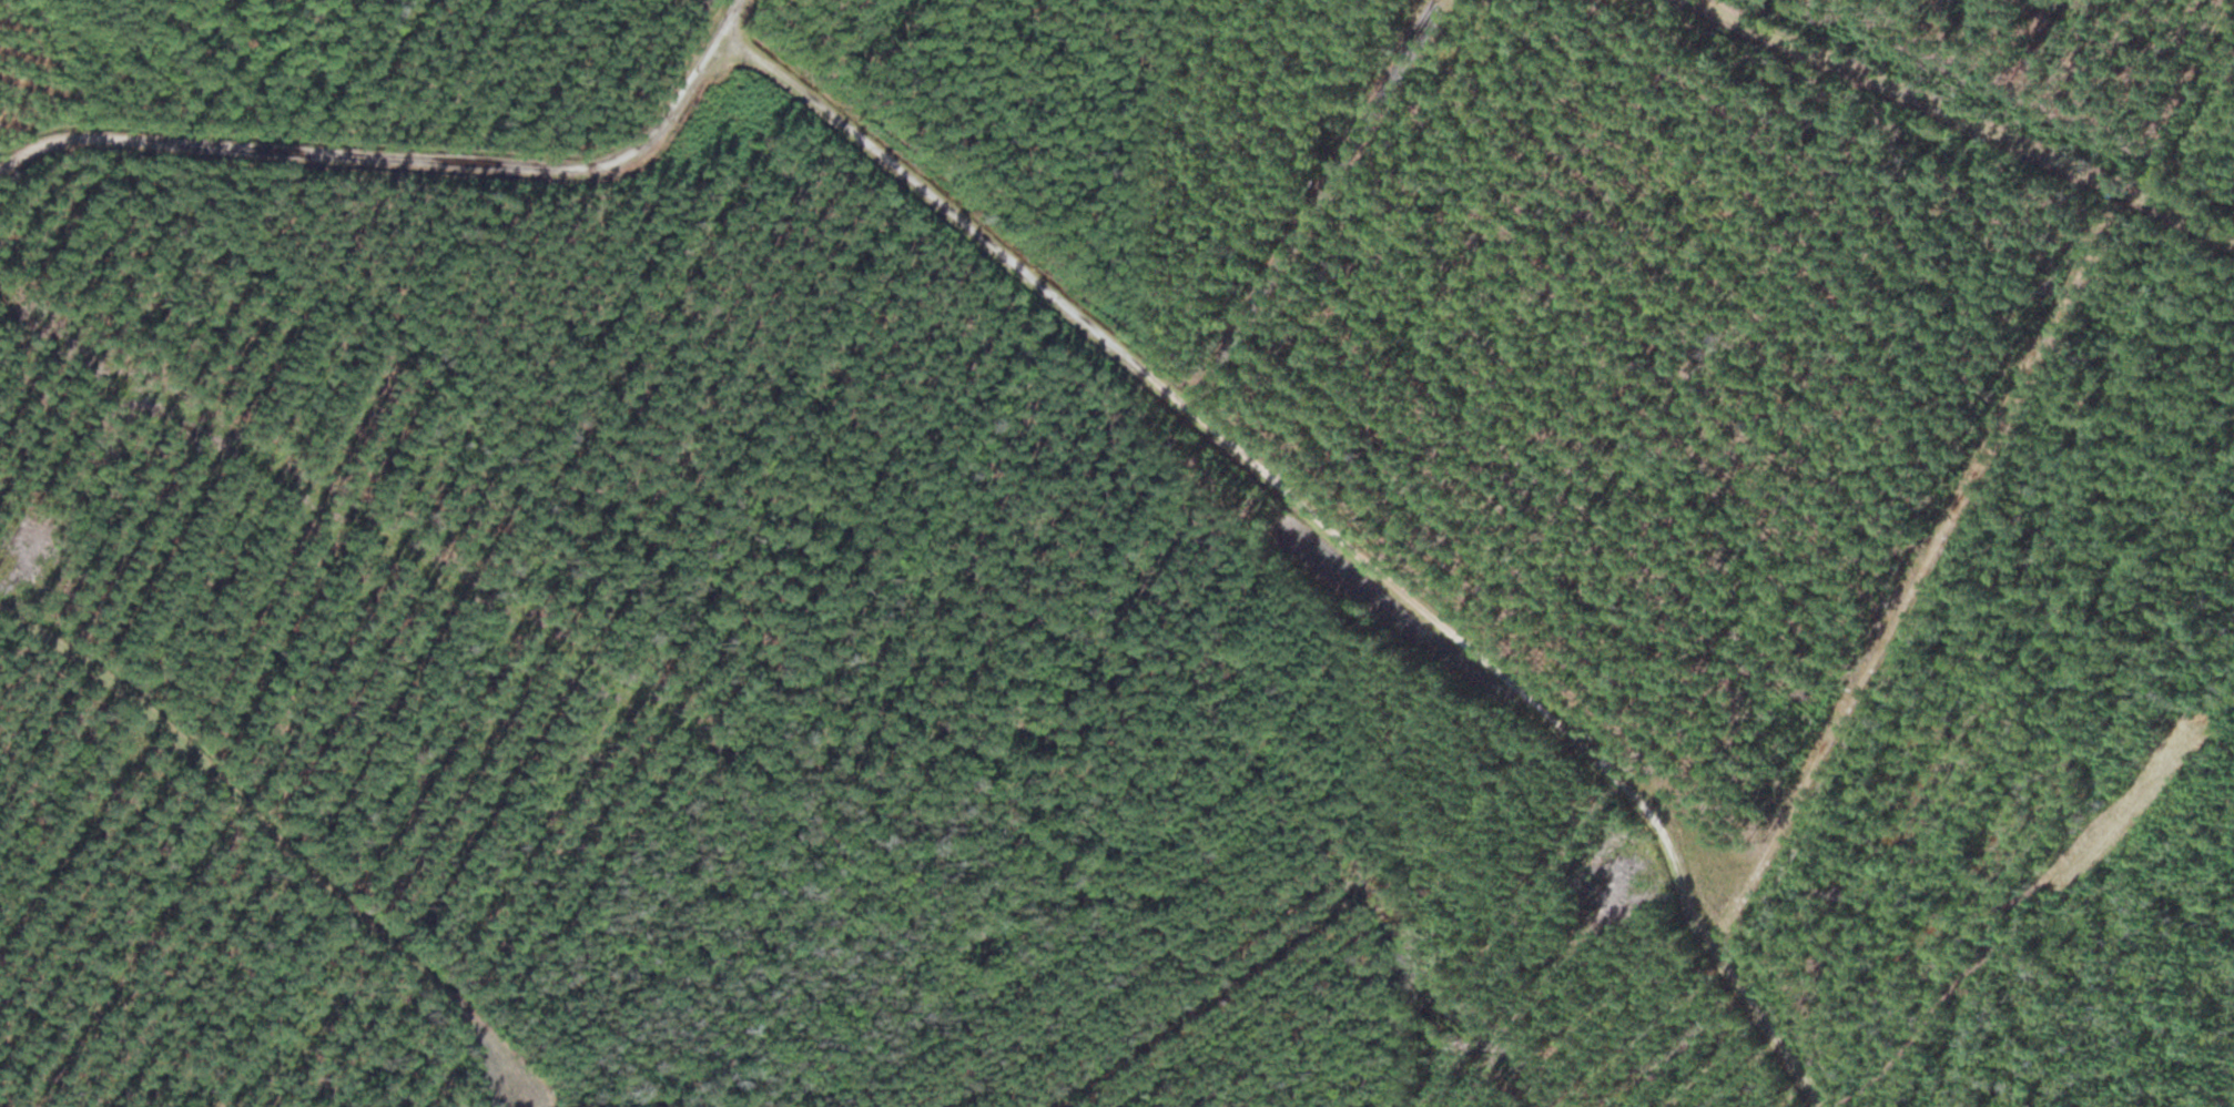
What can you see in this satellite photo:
road: (1972, 120)
road: (409, 158)
road: (1329, 529)
road: (241, 795)

